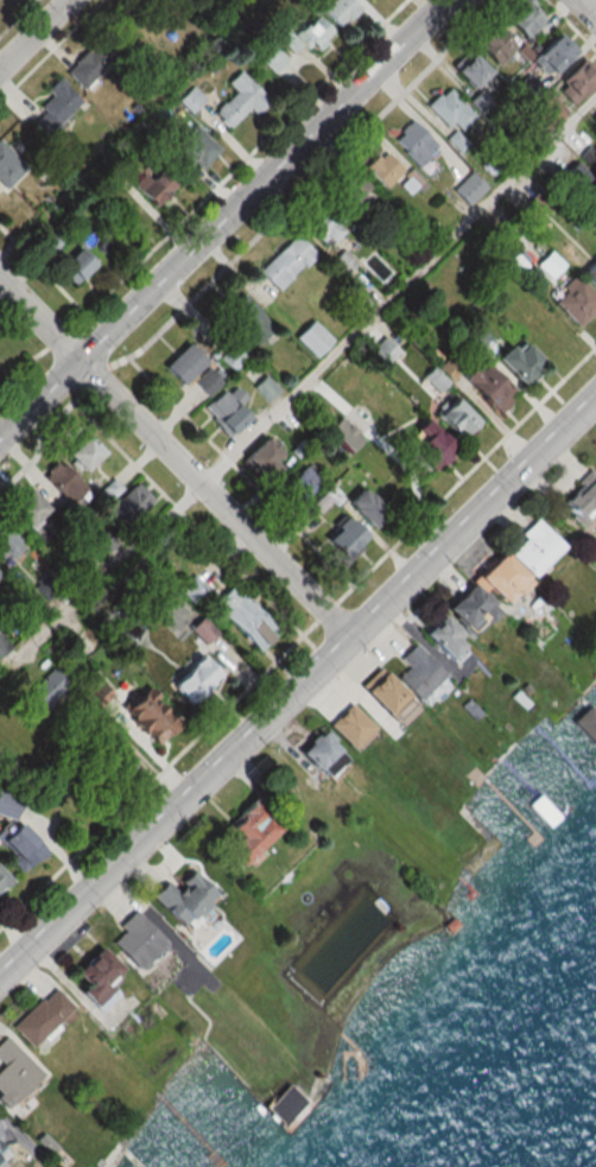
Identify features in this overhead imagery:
road: (590, 6)
road: (28, 30)
road: (224, 217)
road: (242, 246)
road: (400, 288)
road: (173, 451)
road: (304, 677)

